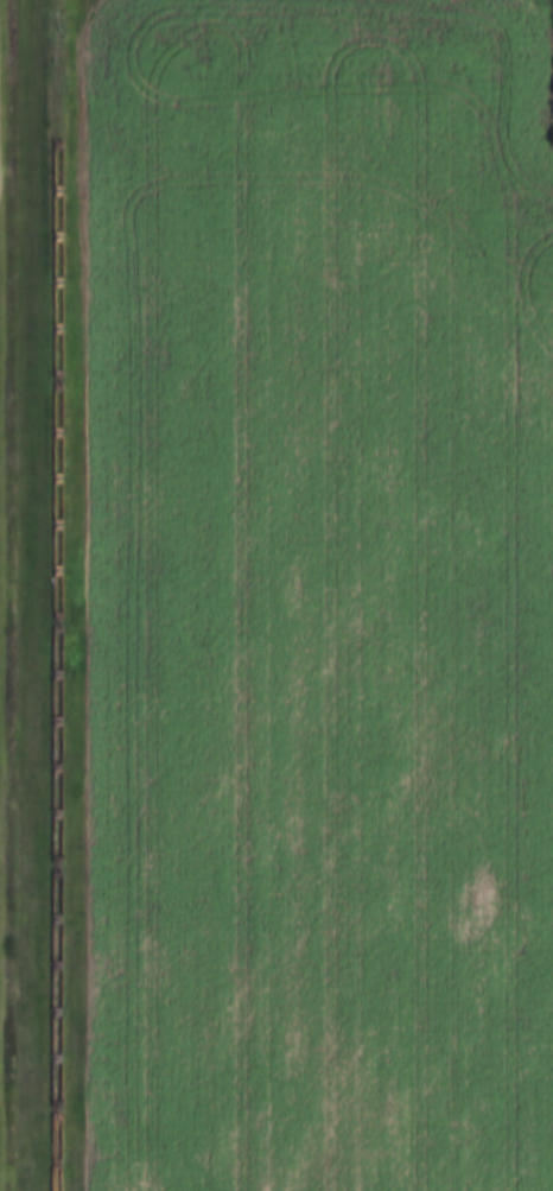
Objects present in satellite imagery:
railway: (52, 595)

